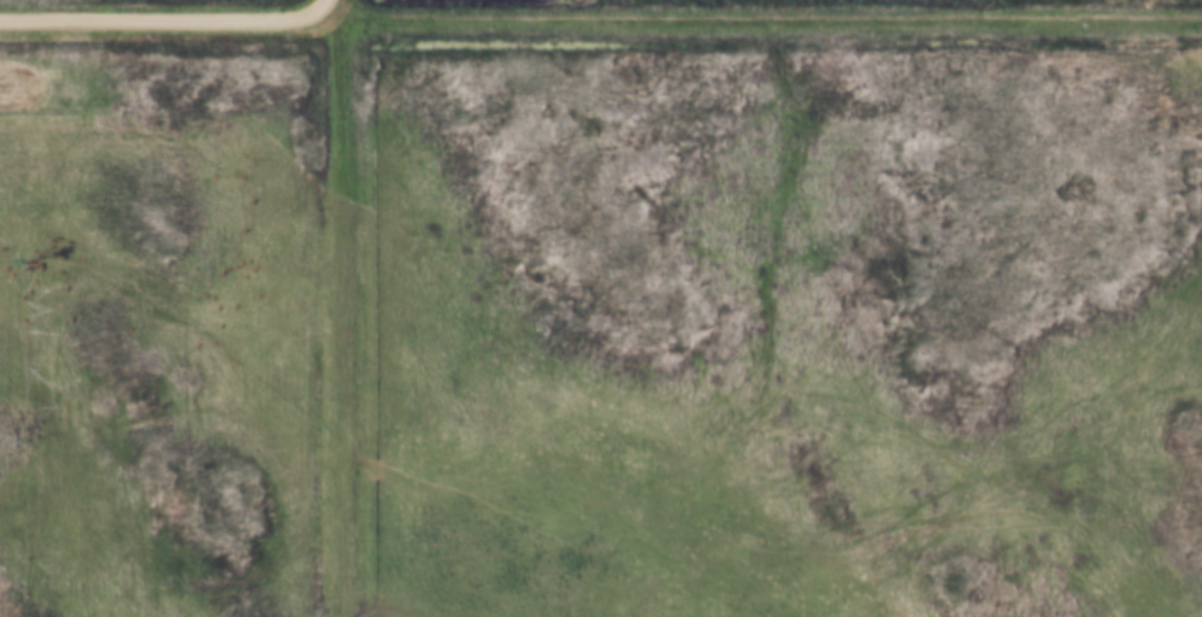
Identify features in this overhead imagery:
road: (770, 14)
road: (169, 17)
road: (341, 308)

